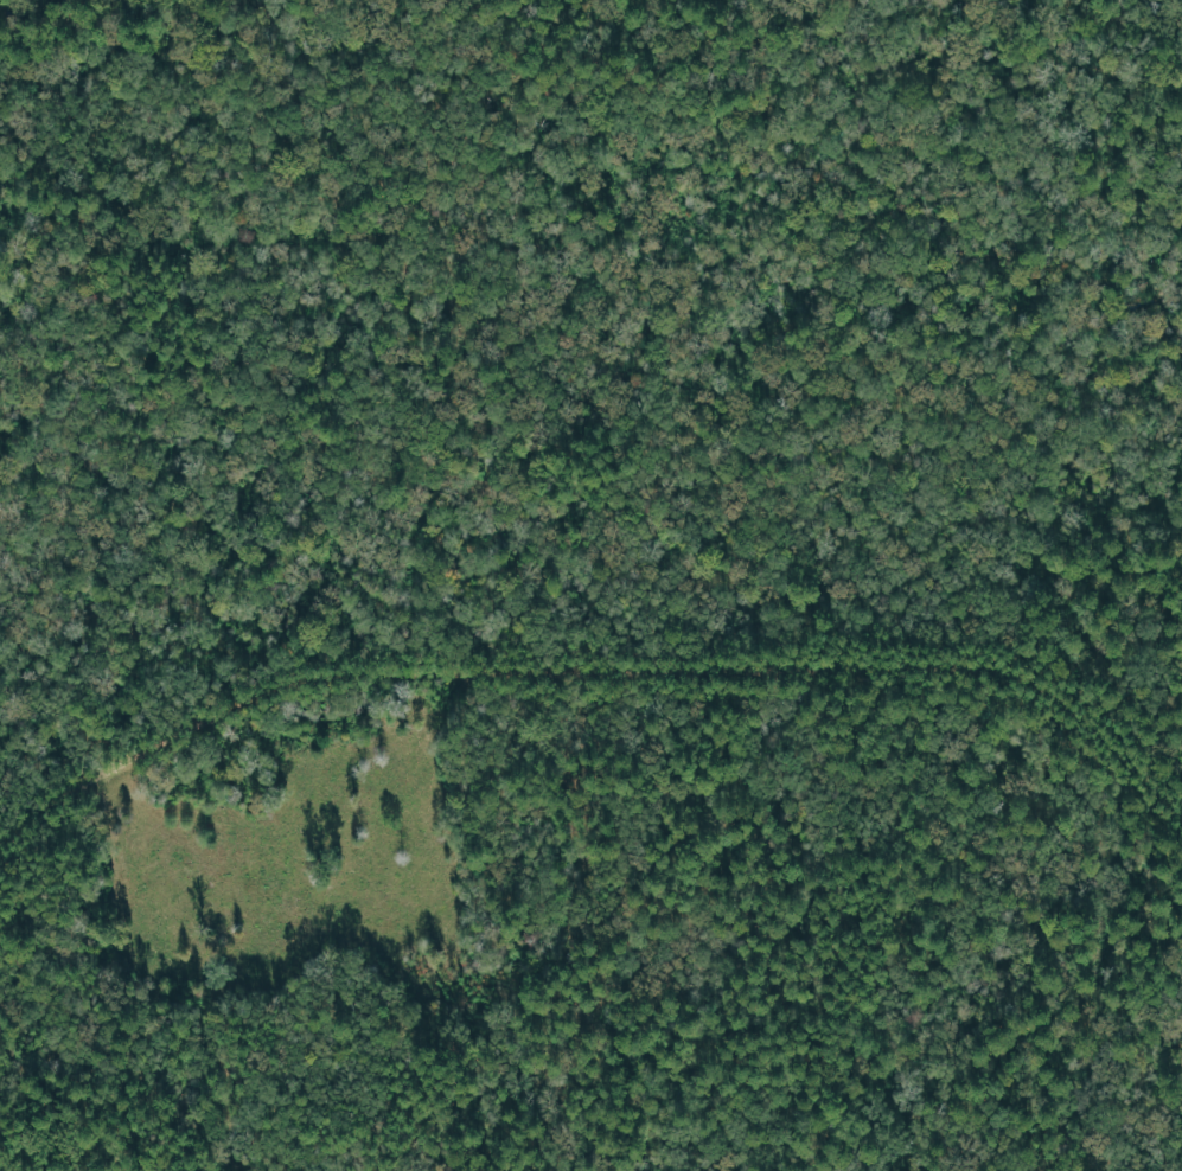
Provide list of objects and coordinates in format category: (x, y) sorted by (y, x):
road: (590, 672)

